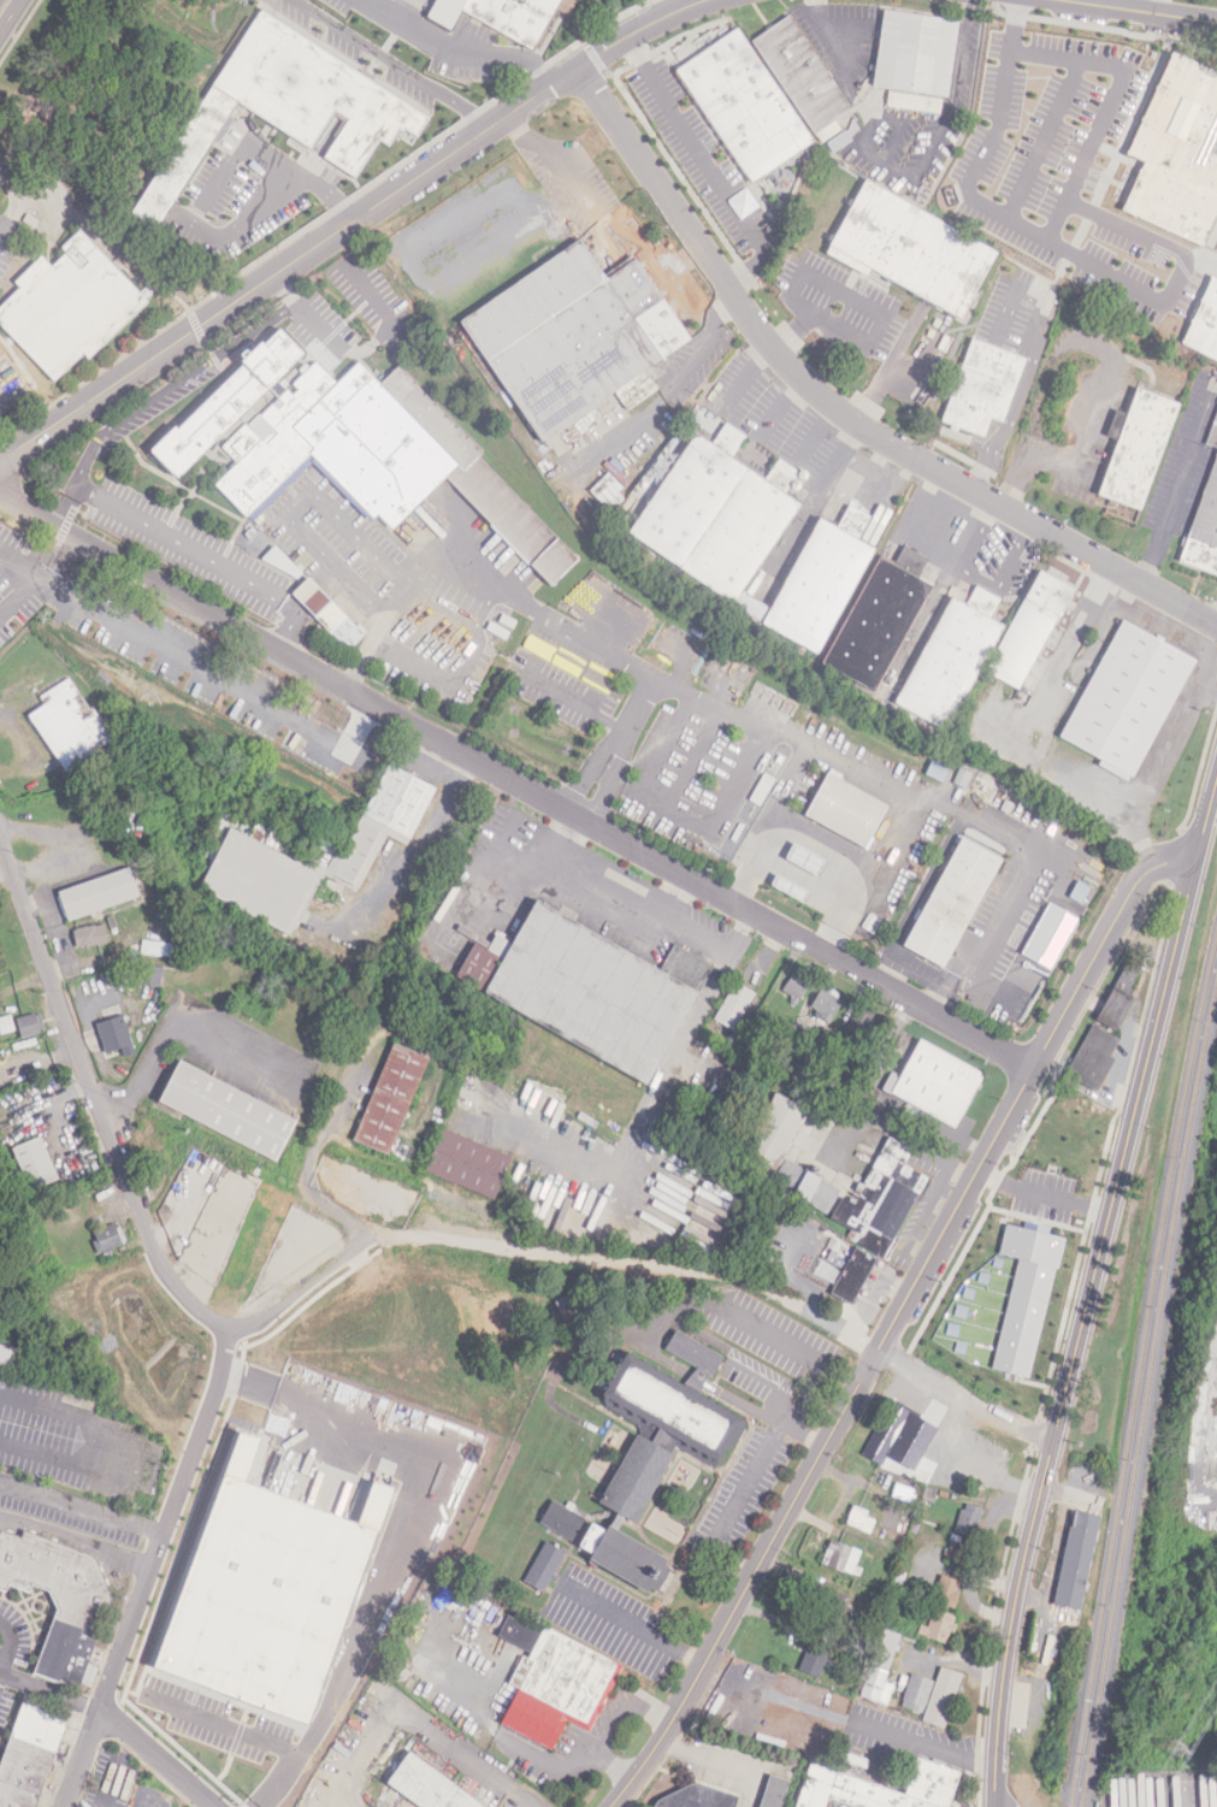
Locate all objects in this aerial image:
road: (1159, 8)
road: (1130, 12)
road: (8, 13)
building: (503, 16)
road: (1014, 28)
road: (831, 39)
road: (454, 52)
building: (916, 53)
road: (965, 55)
road: (395, 64)
building: (800, 77)
building: (315, 90)
building: (914, 101)
building: (742, 107)
road: (532, 140)
road: (1039, 146)
road: (869, 154)
building: (184, 157)
building: (1175, 159)
road: (710, 165)
road: (573, 179)
road: (268, 190)
road: (13, 213)
road: (350, 224)
road: (1056, 224)
road: (1, 231)
building: (911, 249)
road: (1183, 278)
road: (685, 281)
road: (284, 290)
building: (69, 305)
road: (727, 308)
building: (1187, 320)
road: (793, 332)
building: (577, 333)
road: (866, 344)
road: (373, 346)
road: (175, 384)
building: (985, 385)
road: (780, 407)
road: (839, 412)
building: (1212, 435)
building: (353, 447)
building: (1136, 448)
road: (1181, 483)
road: (65, 507)
building: (717, 513)
building: (1203, 528)
road: (203, 556)
road: (18, 565)
road: (475, 578)
building: (819, 580)
road: (43, 581)
road: (171, 591)
road: (18, 596)
building: (330, 613)
building: (878, 618)
building: (1027, 631)
road: (164, 646)
building: (949, 660)
building: (1127, 701)
building: (69, 725)
road: (622, 728)
road: (781, 734)
building: (937, 769)
road: (790, 784)
building: (844, 810)
road: (1002, 831)
road: (819, 846)
road: (900, 850)
building: (808, 861)
building: (261, 878)
road: (689, 880)
building: (98, 893)
building: (950, 903)
building: (89, 935)
building: (1050, 935)
road: (917, 974)
building: (149, 975)
building: (587, 987)
building: (796, 987)
building: (1117, 997)
building: (825, 1004)
building: (733, 1005)
building: (6, 1023)
building: (29, 1024)
building: (856, 1024)
building: (114, 1034)
building: (1093, 1057)
road: (148, 1065)
building: (934, 1083)
building: (390, 1098)
building: (229, 1110)
building: (785, 1153)
building: (35, 1163)
building: (468, 1164)
road: (313, 1171)
road: (124, 1180)
road: (1041, 1194)
building: (107, 1239)
road: (534, 1251)
building: (852, 1276)
road: (1089, 1291)
building: (1026, 1295)
road: (749, 1313)
road: (897, 1316)
building: (10, 1356)
road: (739, 1358)
railway: (1140, 1369)
road: (697, 1377)
railway: (1146, 1395)
road: (965, 1396)
road: (743, 1404)
road: (1204, 1423)
building: (898, 1441)
road: (100, 1443)
building: (656, 1448)
road: (746, 1487)
road: (82, 1507)
building: (561, 1519)
building: (861, 1519)
building: (968, 1520)
road: (406, 1543)
building: (840, 1557)
building: (1073, 1560)
building: (542, 1566)
road: (150, 1567)
building: (946, 1592)
building: (57, 1594)
building: (271, 1594)
road: (633, 1625)
building: (938, 1625)
road: (12, 1648)
building: (814, 1659)
road: (2, 1667)
building: (881, 1670)
building: (553, 1684)
road: (51, 1691)
building: (932, 1695)
road: (847, 1720)
road: (223, 1726)
road: (609, 1726)
road: (429, 1730)
power tower: (1178, 1748)
building: (30, 1756)
road: (532, 1758)
road: (153, 1759)
road: (725, 1765)
road: (113, 1782)
building: (430, 1784)
building: (876, 1788)
building: (773, 1791)
building: (695, 1797)
road: (203, 1806)
road: (531, 1806)
road: (532, 1806)

